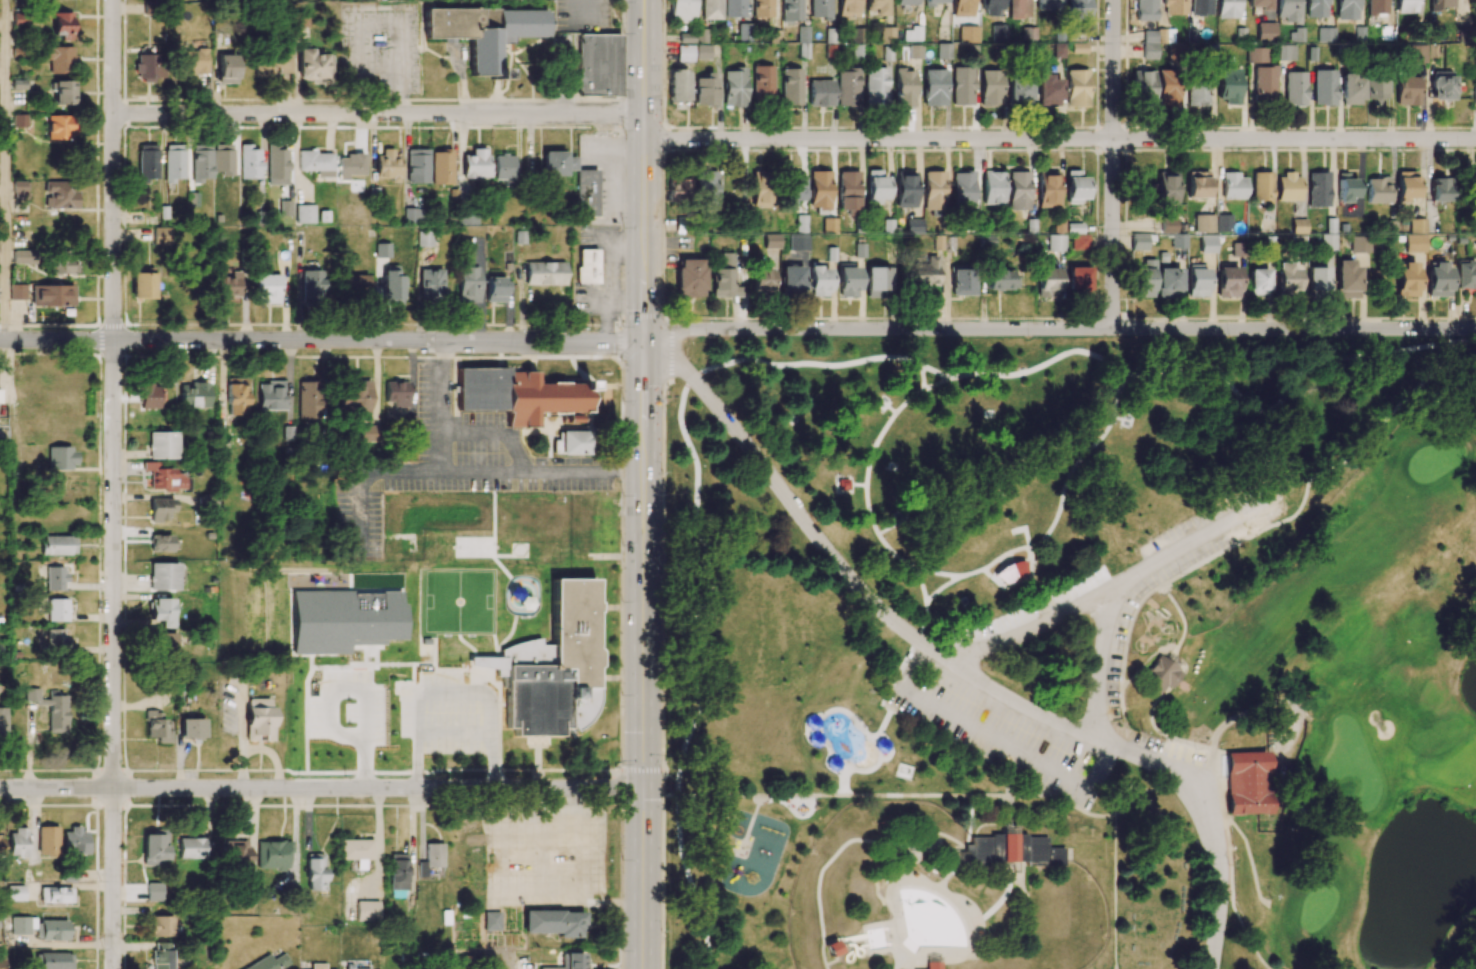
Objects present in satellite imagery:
building: (906, 2)
building: (931, 2)
building: (1440, 3)
building: (1259, 4)
building: (1048, 5)
building: (875, 6)
building: (1406, 6)
building: (1174, 7)
building: (1201, 7)
building: (734, 8)
building: (762, 8)
building: (847, 8)
building: (962, 8)
building: (989, 8)
building: (1316, 8)
building: (1377, 8)
building: (711, 9)
building: (819, 9)
building: (1019, 9)
building: (1076, 9)
building: (1227, 9)
building: (1347, 9)
building: (791, 10)
building: (1145, 10)
building: (1287, 10)
building: (681, 11)
building: (303, 19)
building: (61, 25)
building: (1266, 31)
building: (484, 32)
building: (744, 32)
building: (1326, 34)
building: (887, 35)
building: (694, 37)
building: (858, 43)
building: (1149, 45)
building: (1078, 48)
building: (702, 51)
building: (915, 51)
building: (943, 51)
building: (1286, 52)
building: (684, 53)
building: (1417, 54)
building: (1255, 55)
building: (60, 60)
building: (193, 62)
building: (601, 63)
building: (272, 65)
building: (314, 66)
building: (146, 67)
building: (227, 69)
building: (762, 82)
building: (1264, 84)
building: (1442, 85)
building: (677, 86)
building: (790, 86)
building: (876, 86)
building: (962, 86)
building: (1228, 86)
building: (734, 87)
building: (848, 87)
building: (1323, 87)
building: (904, 88)
building: (934, 88)
building: (990, 88)
building: (1076, 88)
building: (1142, 88)
building: (1167, 88)
building: (1294, 89)
building: (705, 90)
building: (1350, 90)
building: (1019, 91)
building: (1047, 91)
building: (1407, 91)
building: (1197, 92)
building: (1375, 92)
building: (62, 93)
building: (820, 93)
building: (1474, 95)
road: (378, 113)
street lamp: (663, 119)
building: (19, 120)
building: (60, 127)
street lamp: (577, 128)
street lamp: (753, 128)
road: (644, 138)
road: (1060, 139)
street lamp: (1460, 147)
building: (223, 159)
building: (201, 162)
building: (249, 162)
building: (316, 162)
building: (146, 163)
building: (557, 163)
building: (475, 164)
road: (1112, 164)
building: (173, 165)
building: (350, 165)
building: (388, 165)
building: (277, 166)
building: (417, 166)
building: (441, 167)
building: (504, 169)
building: (1197, 185)
building: (1406, 185)
building: (1233, 186)
building: (794, 187)
building: (876, 187)
building: (993, 187)
building: (1075, 187)
building: (1261, 187)
building: (1288, 187)
building: (1346, 188)
building: (761, 189)
building: (905, 189)
building: (963, 189)
building: (1047, 189)
building: (1167, 189)
building: (1318, 189)
building: (679, 190)
building: (706, 190)
building: (819, 190)
building: (1018, 190)
building: (1377, 190)
building: (1439, 190)
building: (933, 191)
building: (586, 192)
building: (597, 192)
building: (848, 192)
building: (59, 195)
building: (304, 214)
building: (413, 215)
building: (466, 217)
building: (1204, 223)
building: (1223, 223)
building: (1168, 225)
building: (913, 226)
building: (1298, 226)
building: (1417, 226)
street lamp: (624, 228)
building: (161, 236)
building: (424, 239)
building: (771, 241)
building: (1179, 241)
building: (798, 242)
building: (1079, 242)
building: (1139, 242)
building: (1327, 242)
building: (1055, 243)
building: (1414, 243)
building: (1207, 244)
building: (1360, 244)
road: (6, 250)
building: (382, 250)
building: (23, 257)
building: (60, 264)
building: (588, 266)
building: (928, 270)
building: (544, 273)
building: (1466, 275)
building: (689, 278)
building: (723, 278)
building: (1077, 278)
building: (762, 279)
building: (1316, 279)
building: (1406, 279)
building: (1000, 280)
building: (1143, 280)
building: (1286, 280)
building: (1347, 280)
building: (1438, 280)
building: (792, 281)
building: (819, 281)
building: (848, 281)
building: (1196, 281)
building: (877, 282)
building: (962, 282)
building: (1227, 282)
building: (1258, 282)
building: (142, 283)
building: (1047, 283)
building: (1168, 283)
building: (354, 284)
building: (468, 284)
building: (431, 285)
building: (228, 286)
building: (311, 286)
building: (392, 286)
building: (267, 288)
building: (495, 289)
building: (42, 295)
road: (644, 307)
traffic signals: (644, 309)
street lamp: (662, 310)
road: (632, 316)
street lamp: (1130, 320)
street lamp: (623, 327)
street lamp: (134, 328)
street lamp: (457, 328)
road: (1059, 328)
street lamp: (214, 329)
street lamp: (376, 329)
street lamp: (576, 330)
traffic signals: (677, 330)
street lamp: (708, 334)
street lamp: (808, 335)
street lamp: (917, 336)
street lamp: (1028, 336)
street lamp: (1228, 336)
street lamp: (1337, 336)
street lamp: (1443, 339)
road: (322, 340)
traffic signals: (614, 342)
road: (671, 356)
street lamp: (687, 356)
traffic signals: (677, 364)
street lamp: (458, 367)
road: (922, 376)
road: (941, 381)
road: (643, 383)
traffic signals: (643, 385)
building: (396, 393)
building: (193, 395)
building: (520, 395)
building: (148, 396)
building: (271, 396)
building: (237, 397)
building: (354, 398)
building: (309, 399)
street lamp: (623, 401)
road: (443, 405)
road: (1379, 425)
road: (495, 430)
building: (368, 433)
building: (573, 443)
building: (162, 445)
building: (61, 458)
street lamp: (360, 458)
park: (1434, 461)
street lamp: (416, 462)
road: (459, 470)
street lamp: (662, 473)
building: (163, 477)
street lamp: (617, 481)
road: (112, 484)
building: (63, 485)
street lamp: (432, 491)
street lamp: (546, 492)
street lamp: (580, 492)
street lamp: (1244, 497)
building: (1034, 501)
road: (791, 504)
building: (160, 509)
street lamp: (811, 515)
street lamp: (385, 516)
road: (1197, 539)
building: (161, 543)
building: (57, 545)
street lamp: (623, 545)
road: (703, 545)
street lamp: (357, 558)
parking lot: (1179, 567)
road: (1029, 569)
road: (663, 573)
road: (1175, 576)
building: (163, 577)
building: (55, 578)
road: (921, 583)
street lamp: (1085, 586)
park: (456, 600)
building: (57, 610)
building: (160, 611)
parking lot: (1032, 613)
road: (1178, 613)
street lamp: (665, 616)
street lamp: (1010, 622)
road: (1033, 629)
park: (967, 633)
building: (56, 638)
building: (164, 642)
street lamp: (1130, 649)
road: (1100, 662)
road: (1144, 663)
street lamp: (981, 665)
road: (914, 666)
building: (552, 667)
building: (1158, 678)
park: (1207, 684)
road: (358, 691)
road: (440, 692)
street lamp: (623, 695)
street lamp: (1031, 697)
road: (642, 699)
road: (884, 699)
road: (1122, 699)
road: (1020, 704)
park: (1340, 706)
building: (50, 708)
road: (851, 717)
building: (258, 720)
building: (2, 722)
road: (883, 723)
building: (156, 725)
building: (191, 728)
parking lot: (999, 729)
road: (445, 732)
traffic signals: (642, 732)
road: (491, 736)
road: (997, 737)
road: (397, 739)
street lamp: (1199, 741)
road: (1214, 741)
park: (1352, 760)
road: (1016, 762)
road: (1102, 766)
road: (640, 768)
parking lot: (1182, 768)
street lamp: (263, 775)
street lamp: (384, 775)
street lamp: (455, 775)
street lamp: (661, 776)
road: (843, 779)
road: (662, 781)
road: (1030, 783)
road: (1215, 784)
building: (1243, 784)
road: (321, 787)
road: (1278, 787)
building: (1471, 788)
road: (1146, 789)
road: (857, 795)
street lamp: (130, 798)
road: (1010, 798)
street lamp: (555, 799)
traffic signals: (642, 800)
street lamp: (1140, 801)
road: (545, 806)
street lamp: (872, 822)
road: (969, 822)
road: (750, 823)
street lamp: (934, 823)
road: (987, 823)
road: (1208, 824)
road: (533, 825)
road: (1010, 828)
building: (1011, 830)
building: (47, 840)
building: (74, 841)
building: (17, 843)
building: (1, 845)
building: (191, 848)
building: (154, 849)
road: (839, 849)
road: (958, 850)
building: (1012, 850)
building: (357, 851)
building: (235, 852)
street lamp: (814, 852)
building: (433, 854)
building: (273, 855)
road: (1114, 857)
street lamp: (623, 858)
road: (961, 858)
building: (960, 859)
road: (1250, 860)
road: (892, 862)
road: (953, 865)
building: (1010, 866)
building: (398, 871)
building: (315, 872)
street lamp: (928, 873)
street lamp: (1087, 878)
road: (662, 881)
road: (915, 882)
road: (941, 884)
road: (893, 891)
building: (153, 892)
building: (17, 893)
building: (56, 895)
road: (1231, 899)
road: (888, 901)
road: (996, 905)
park: (1319, 906)
building: (367, 911)
street lamp: (793, 911)
street lamp: (1208, 911)
road: (897, 913)
road: (964, 915)
building: (491, 921)
building: (553, 923)
road: (1025, 923)
building: (23, 925)
building: (161, 926)
road: (891, 927)
building: (51, 930)
street lamp: (661, 932)
street lamp: (1101, 936)
road: (897, 938)
building: (831, 947)
road: (898, 947)
road: (904, 949)
road: (953, 951)
road: (487, 952)
building: (161, 955)
road: (934, 956)
road: (917, 957)
building: (1, 958)
building: (934, 958)
building: (53, 960)
road: (899, 960)
building: (570, 961)
road: (830, 961)
road: (1466, 961)
street lamp: (974, 962)
building: (269, 963)
road: (913, 965)
building: (936, 965)
building: (318, 966)
building: (357, 968)
building: (725, 968)

